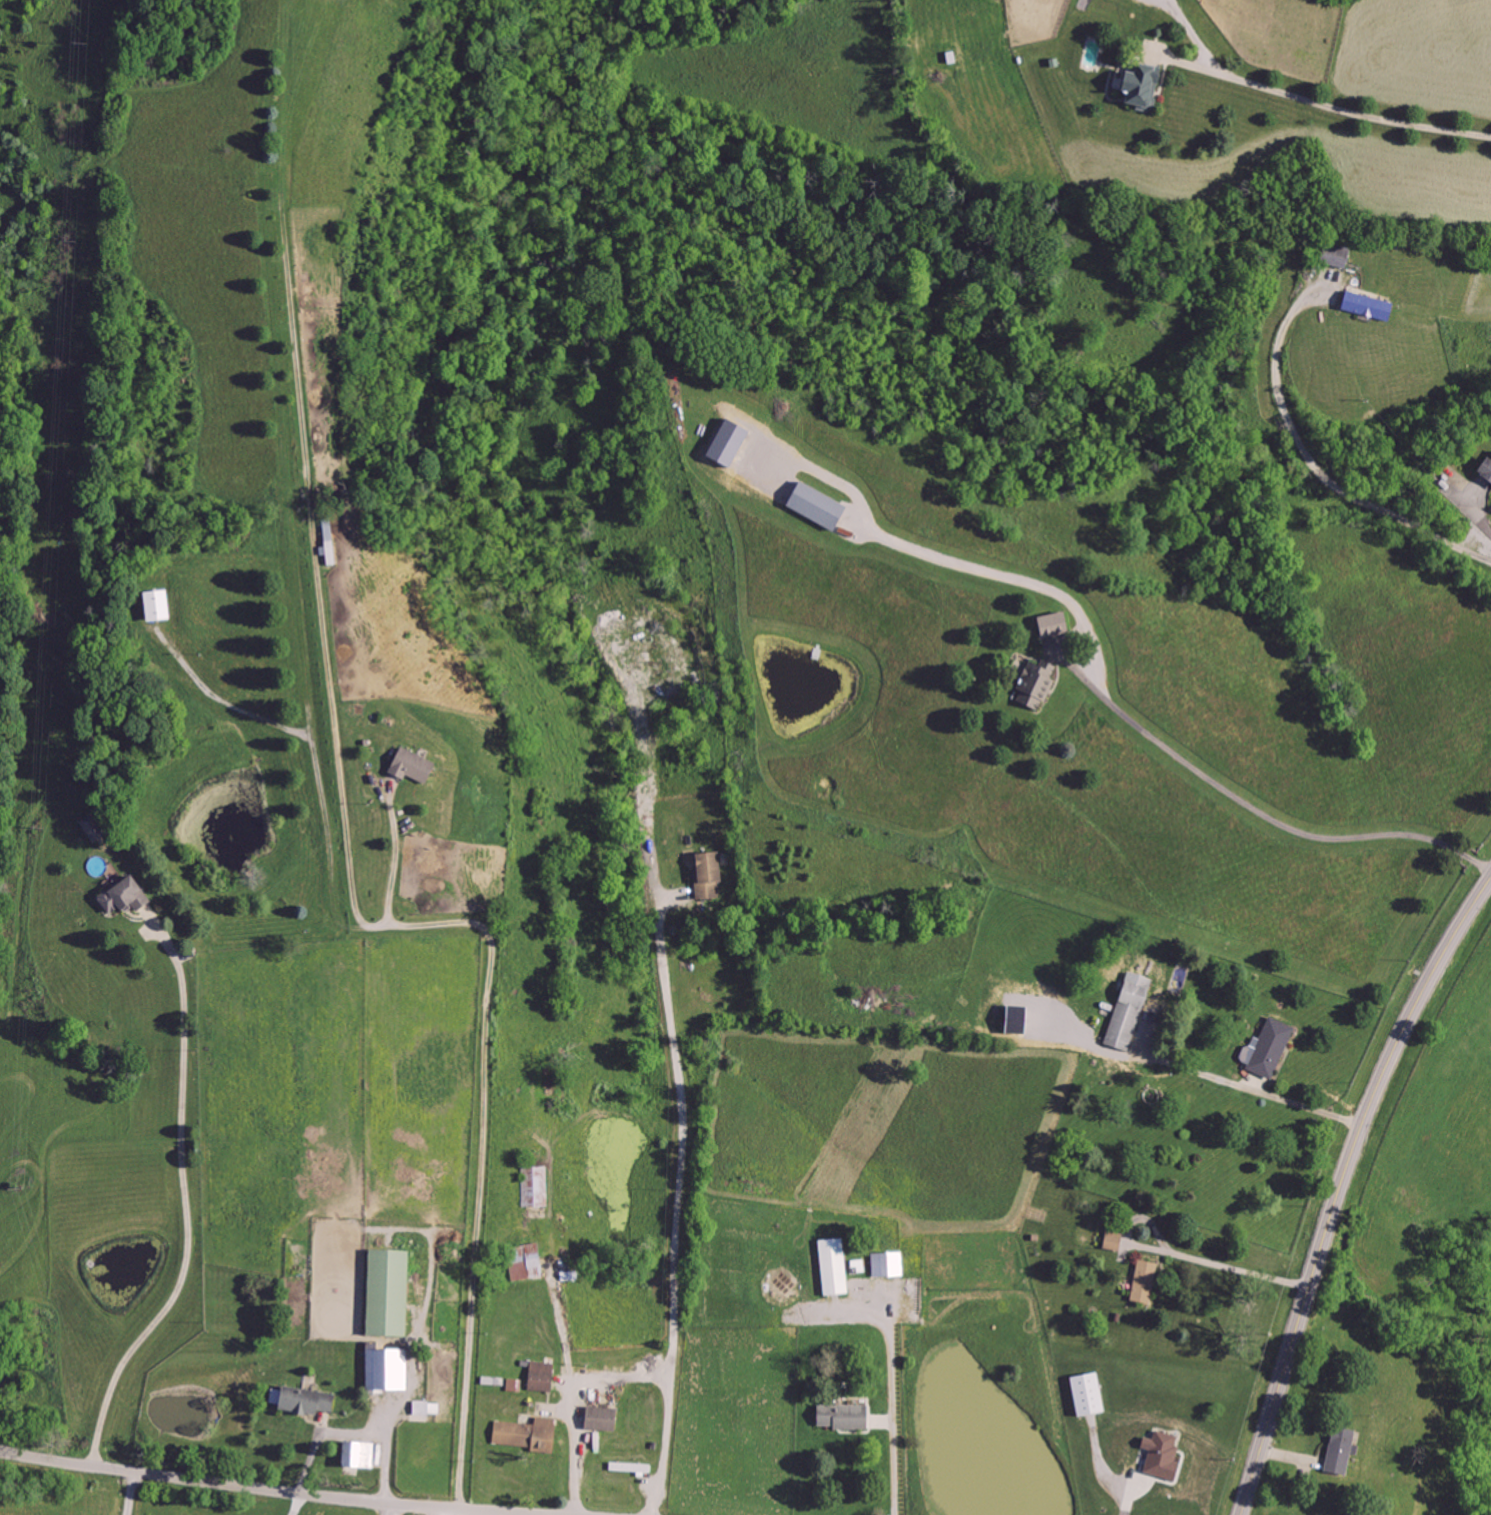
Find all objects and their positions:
road: (1195, 34)
building: (1136, 84)
road: (1328, 103)
building: (1333, 255)
building: (1365, 306)
building: (723, 443)
road: (1317, 464)
building: (1484, 470)
building: (813, 506)
building: (163, 605)
building: (1048, 625)
building: (1034, 685)
road: (222, 693)
building: (410, 766)
road: (1272, 814)
building: (99, 827)
road: (392, 861)
building: (707, 876)
building: (131, 896)
road: (666, 897)
road: (489, 964)
building: (1126, 1012)
building: (1010, 1021)
building: (1268, 1049)
road: (1243, 1085)
building: (536, 1187)
road: (1342, 1188)
road: (191, 1201)
road: (678, 1209)
building: (1111, 1240)
building: (526, 1262)
building: (885, 1263)
building: (830, 1266)
road: (1238, 1267)
building: (1142, 1281)
building: (385, 1292)
building: (384, 1368)
building: (541, 1376)
building: (513, 1385)
building: (1083, 1393)
road: (894, 1395)
road: (576, 1400)
building: (304, 1401)
building: (423, 1410)
building: (840, 1416)
building: (597, 1418)
building: (525, 1434)
building: (1338, 1450)
road: (387, 1452)
building: (354, 1454)
building: (1159, 1455)
road: (278, 1489)
road: (1127, 1491)
road: (300, 1504)
road: (395, 1509)
road: (443, 1511)

